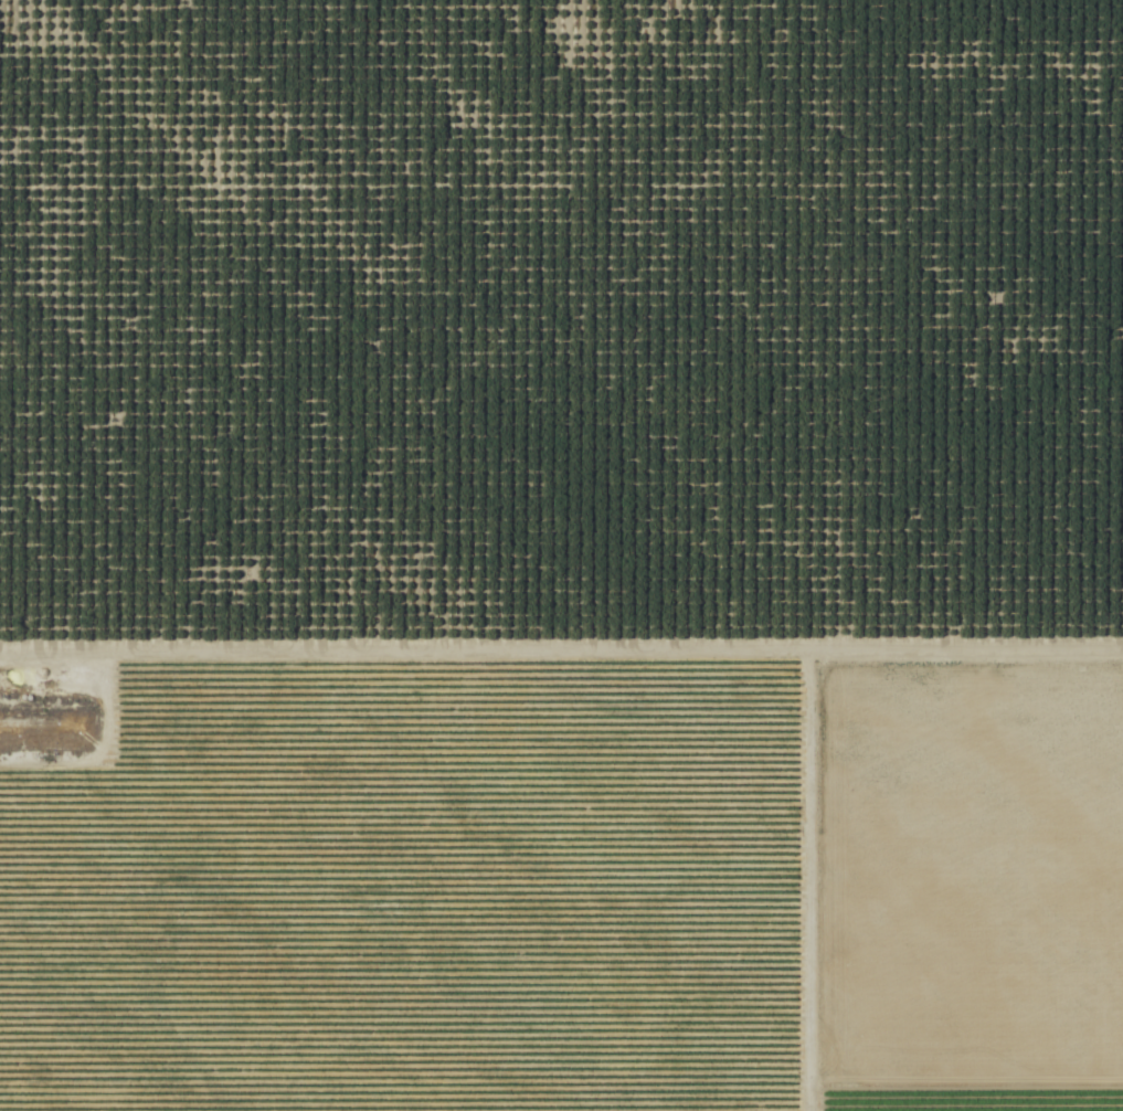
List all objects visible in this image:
road: (561, 652)
road: (805, 880)

